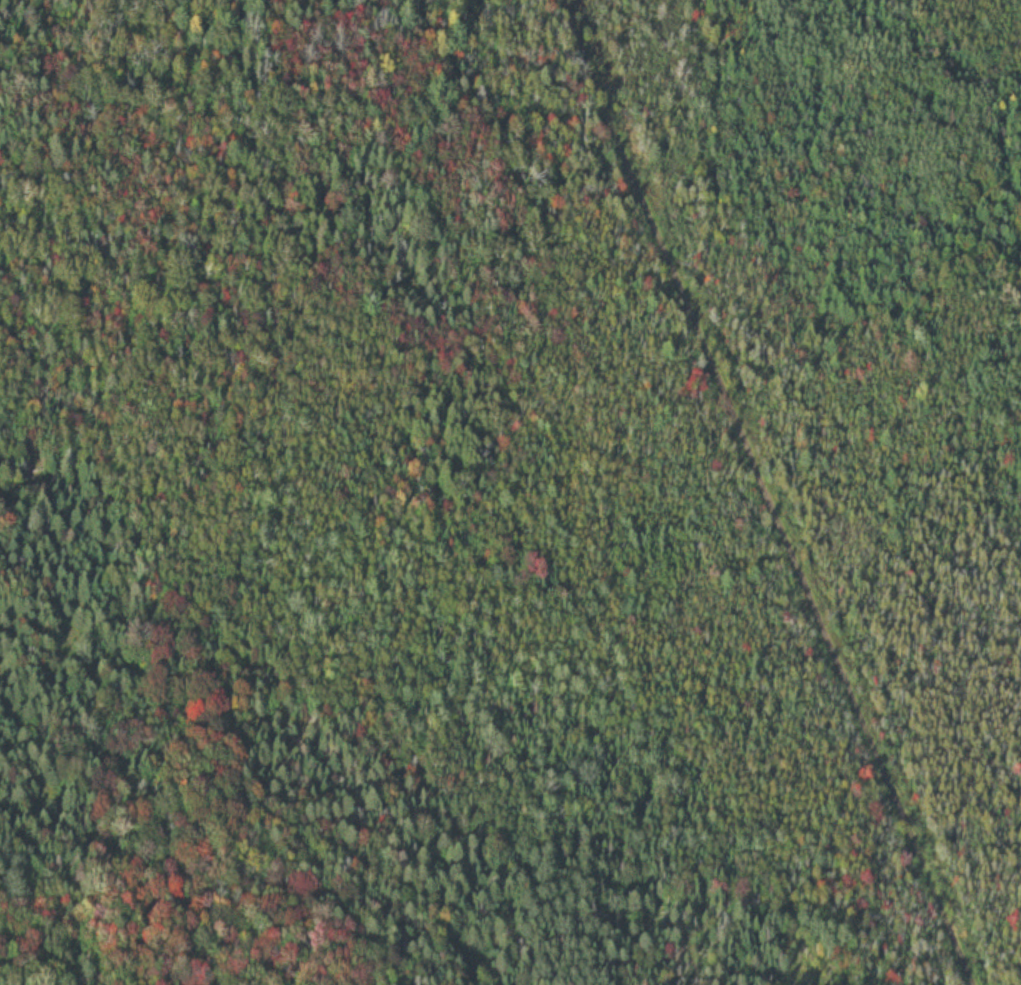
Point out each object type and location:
road: (769, 492)

